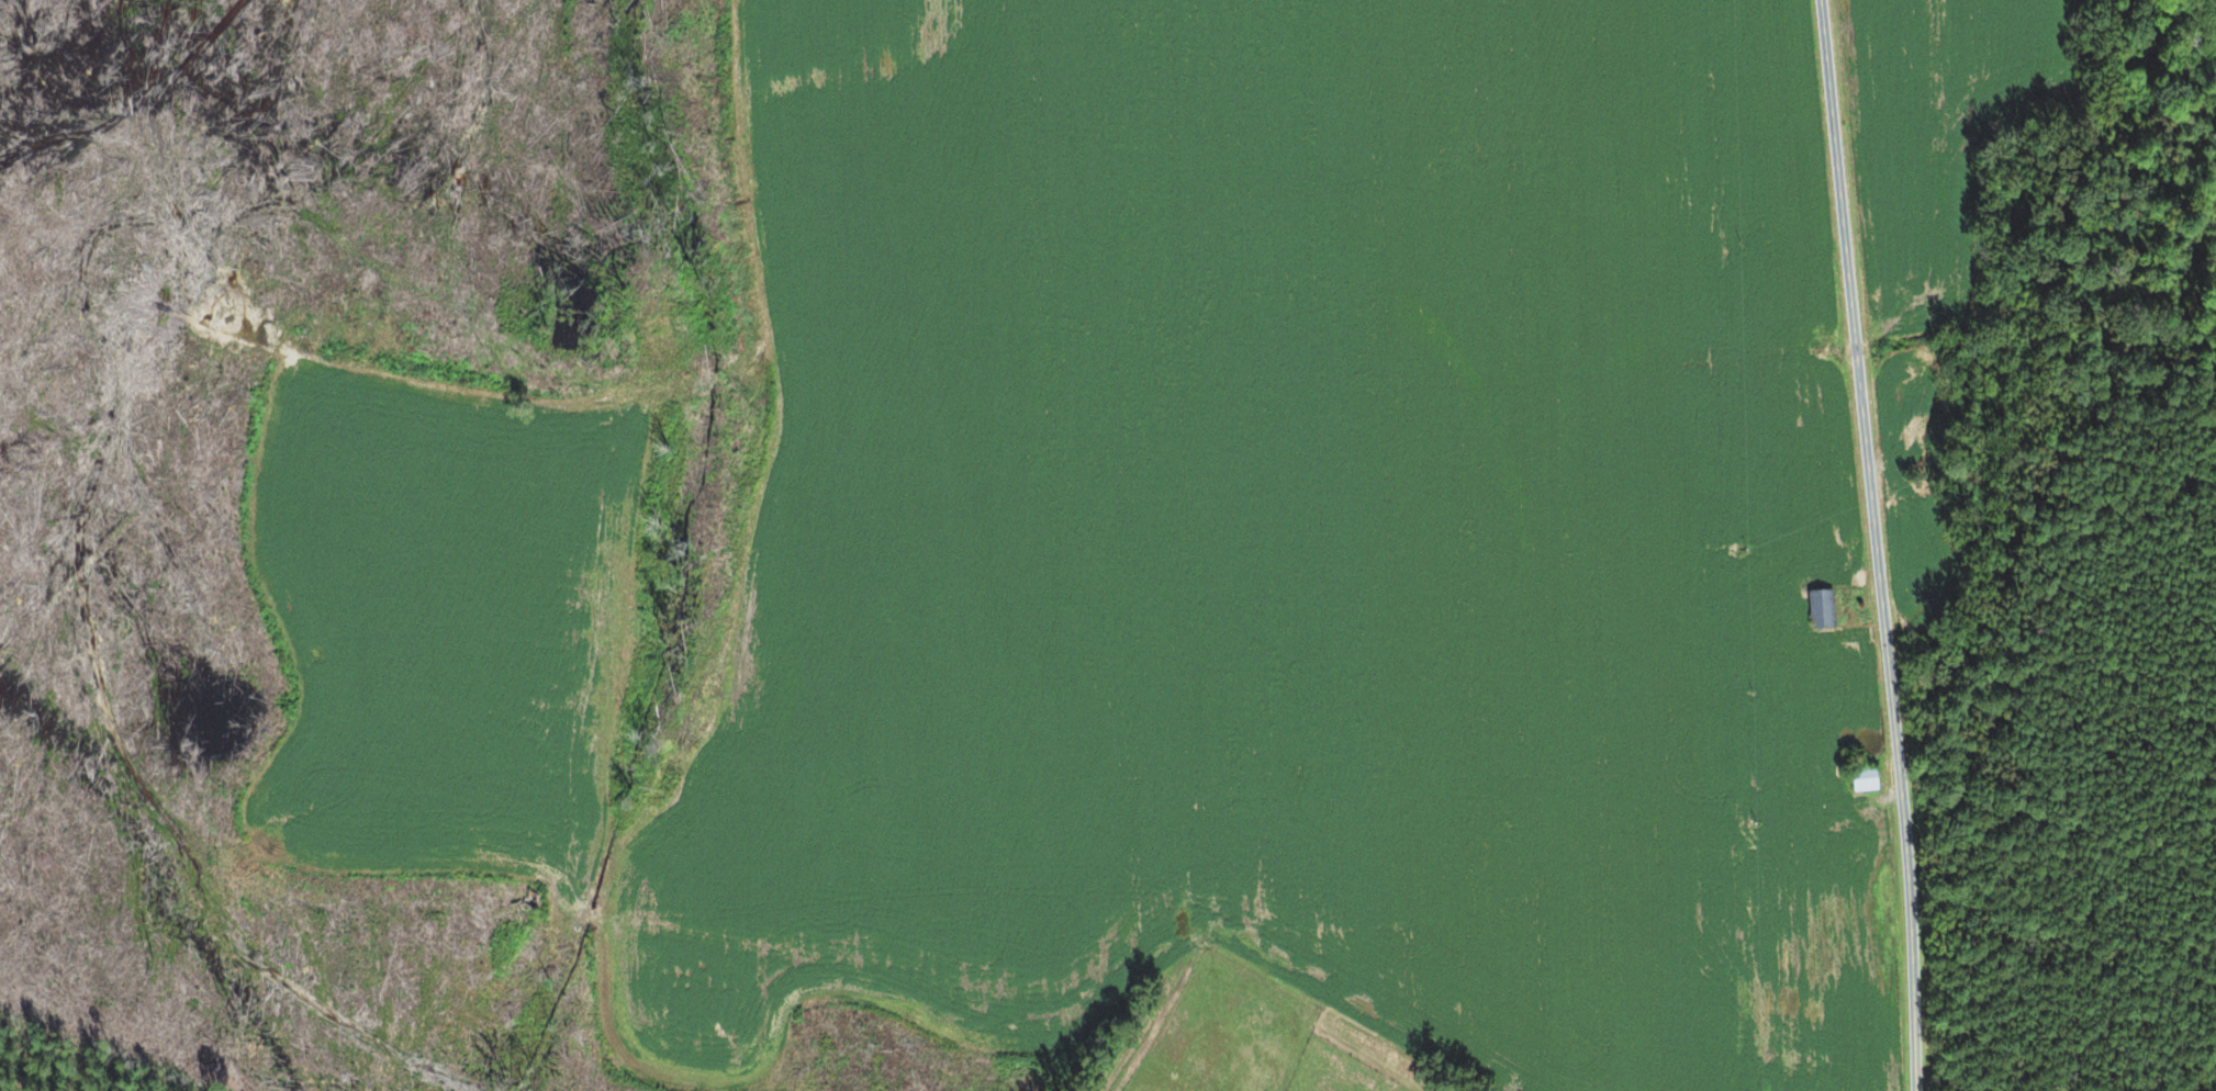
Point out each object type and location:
crop: (1945, 135)
road: (1876, 544)
crop: (1184, 555)
building: (1817, 610)
building: (1861, 778)

